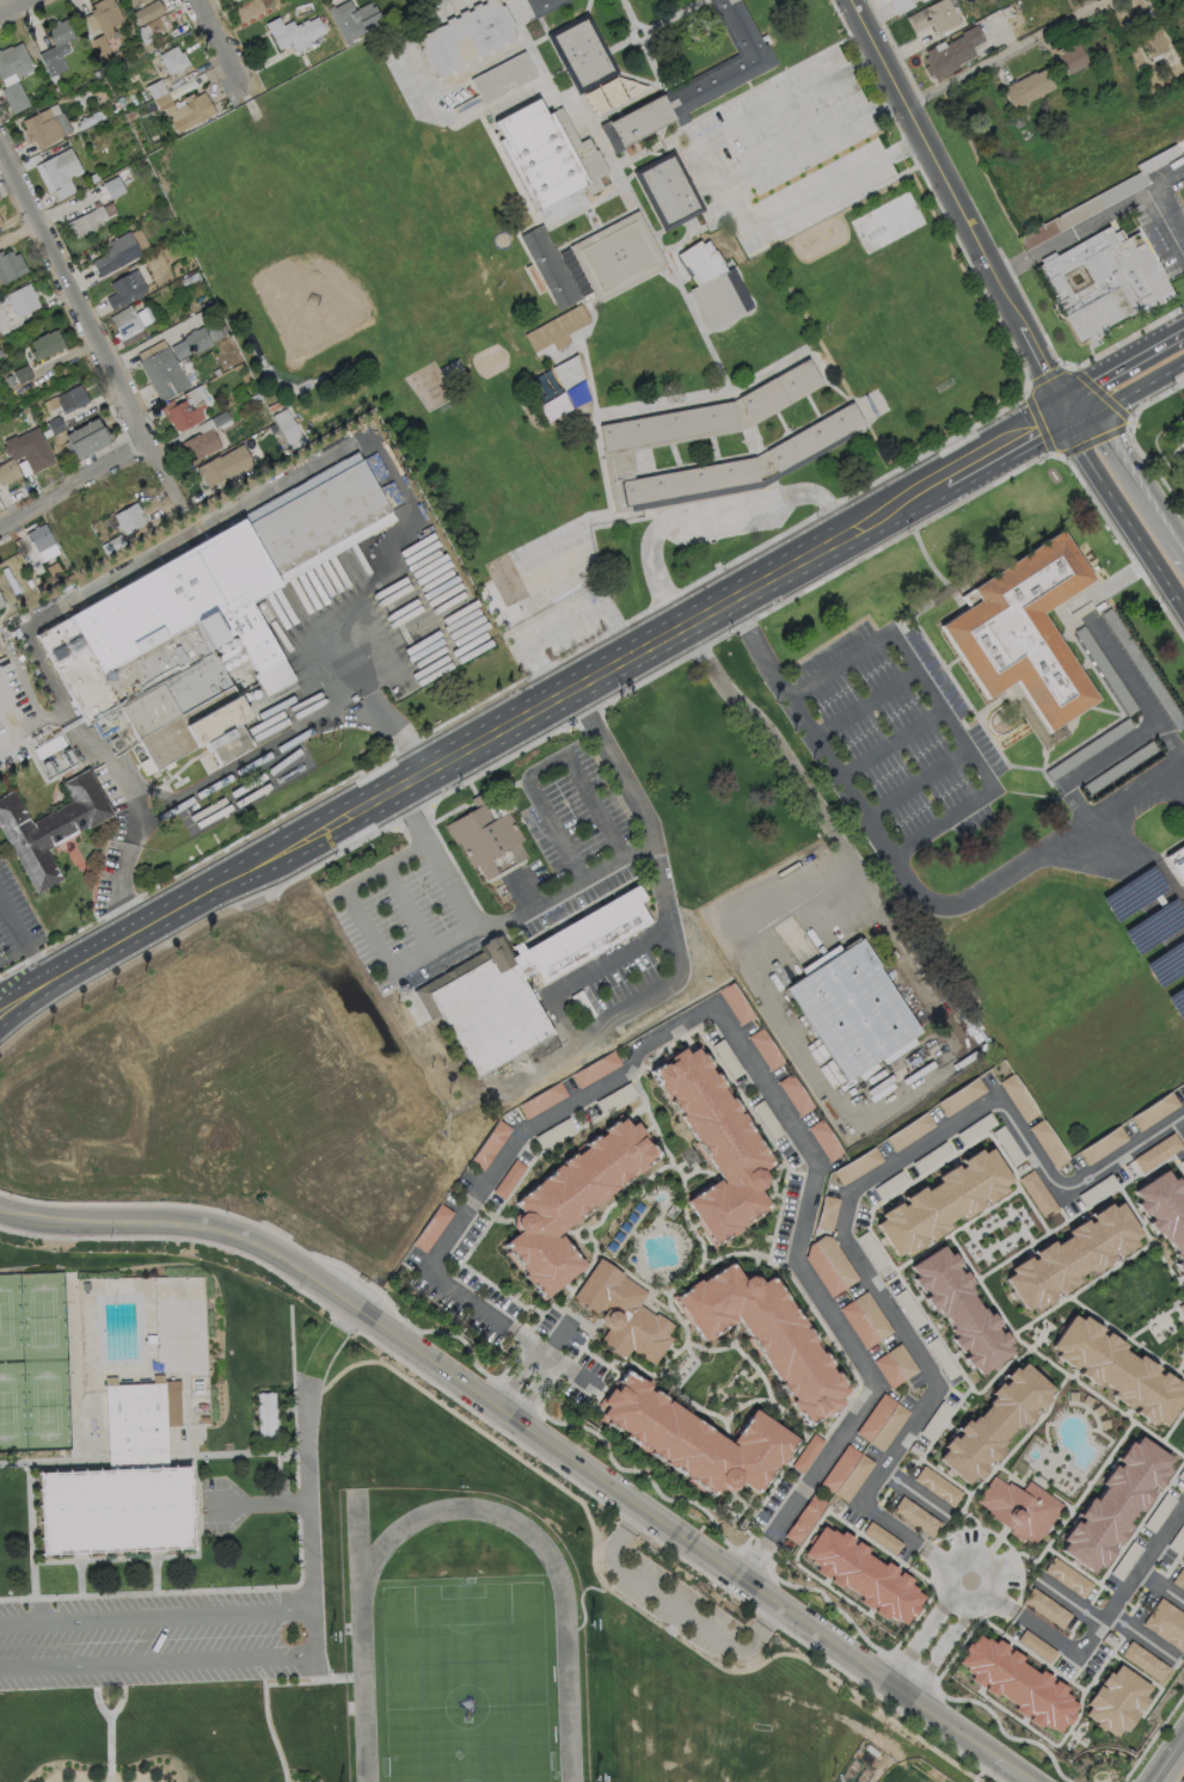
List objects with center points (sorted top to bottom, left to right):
building: (885, 0)
building: (898, 5)
building: (542, 6)
road: (14, 7)
building: (143, 10)
building: (104, 16)
building: (931, 16)
building: (351, 20)
building: (154, 26)
building: (293, 33)
building: (467, 38)
building: (1149, 42)
building: (55, 47)
road: (220, 47)
building: (581, 51)
building: (949, 51)
road: (1006, 53)
building: (1069, 56)
building: (171, 60)
building: (724, 60)
building: (12, 61)
building: (498, 79)
building: (1025, 87)
building: (12, 96)
road: (771, 109)
building: (191, 112)
building: (639, 118)
building: (42, 128)
road: (824, 135)
parking lot: (795, 147)
building: (538, 153)
building: (56, 172)
building: (112, 186)
building: (669, 190)
road: (817, 193)
building: (1096, 199)
road: (959, 204)
building: (86, 219)
building: (0, 222)
building: (114, 253)
building: (616, 256)
building: (8, 265)
building: (548, 266)
building: (1103, 283)
building: (710, 284)
building: (123, 288)
building: (19, 299)
park: (311, 312)
road: (86, 318)
building: (124, 325)
building: (556, 327)
building: (43, 344)
road: (1121, 361)
building: (568, 370)
building: (20, 374)
building: (161, 374)
building: (779, 389)
road: (1128, 393)
building: (68, 398)
building: (180, 408)
traffic signals: (1068, 411)
building: (667, 426)
building: (286, 429)
building: (1178, 434)
building: (811, 435)
building: (82, 438)
building: (197, 444)
road: (1006, 444)
building: (26, 449)
building: (221, 465)
road: (1135, 467)
building: (7, 471)
building: (671, 479)
road: (72, 485)
building: (111, 498)
road: (235, 509)
road: (707, 510)
road: (1119, 512)
building: (127, 517)
parking lot: (731, 523)
building: (37, 536)
building: (73, 540)
building: (112, 543)
building: (53, 569)
building: (10, 582)
building: (29, 583)
building: (956, 585)
road: (1112, 585)
building: (1, 603)
road: (712, 609)
building: (205, 625)
parking lot: (558, 627)
road: (565, 631)
building: (1024, 632)
parking lot: (428, 657)
building: (1142, 668)
building: (1104, 670)
parking lot: (1124, 674)
road: (863, 705)
road: (940, 708)
road: (47, 723)
building: (1037, 723)
road: (1137, 733)
road: (1170, 737)
parking lot: (894, 739)
road: (888, 744)
building: (1087, 749)
road: (456, 755)
road: (240, 763)
building: (1118, 767)
road: (546, 769)
road: (413, 779)
road: (915, 784)
road: (804, 786)
road: (372, 803)
building: (50, 827)
parking lot: (573, 836)
building: (489, 838)
parking lot: (111, 842)
building: (1177, 862)
road: (1143, 875)
road: (656, 877)
road: (907, 877)
road: (569, 886)
road: (521, 891)
road: (205, 892)
road: (409, 907)
parking lot: (400, 920)
parking lot: (17, 921)
road: (79, 929)
road: (368, 932)
road: (20, 938)
road: (31, 983)
building: (516, 984)
road: (2, 990)
road: (33, 1000)
building: (736, 1003)
building: (852, 1012)
road: (712, 1015)
road: (581, 1030)
building: (542, 1046)
building: (765, 1050)
building: (596, 1070)
building: (1183, 1081)
building: (1182, 1084)
building: (795, 1096)
building: (962, 1096)
building: (1019, 1099)
building: (542, 1100)
building: (1155, 1111)
road: (637, 1112)
road: (1182, 1119)
road: (655, 1127)
road: (648, 1129)
building: (910, 1131)
building: (823, 1141)
building: (489, 1144)
building: (717, 1144)
building: (1050, 1144)
building: (1102, 1147)
parking lot: (946, 1149)
building: (1154, 1155)
building: (927, 1159)
parking lot: (1182, 1161)
building: (858, 1167)
building: (509, 1179)
parking lot: (1102, 1186)
building: (1037, 1194)
road: (630, 1198)
building: (573, 1202)
building: (941, 1202)
road: (846, 1212)
building: (1166, 1212)
building: (828, 1213)
road: (491, 1215)
park: (664, 1216)
road: (970, 1221)
building: (431, 1228)
road: (566, 1233)
road: (695, 1235)
road: (582, 1241)
building: (1073, 1260)
road: (431, 1261)
building: (829, 1265)
road: (755, 1267)
road: (583, 1271)
road: (568, 1288)
road: (572, 1292)
road: (565, 1307)
building: (957, 1308)
building: (1182, 1308)
building: (622, 1315)
park: (43, 1316)
park: (6, 1317)
road: (685, 1320)
building: (865, 1320)
road: (1100, 1320)
road: (1155, 1322)
road: (834, 1326)
road: (558, 1333)
parking lot: (915, 1333)
park: (179, 1335)
building: (768, 1338)
road: (671, 1350)
road: (711, 1351)
road: (674, 1354)
road: (544, 1357)
road: (953, 1360)
road: (605, 1364)
building: (895, 1365)
building: (1119, 1365)
road: (1180, 1365)
road: (688, 1366)
park: (714, 1379)
road: (765, 1382)
road: (746, 1402)
park: (47, 1405)
park: (7, 1406)
road: (779, 1418)
road: (838, 1419)
building: (266, 1420)
building: (992, 1420)
building: (881, 1422)
road: (570, 1424)
road: (1173, 1425)
road: (535, 1436)
building: (700, 1439)
road: (1159, 1439)
road: (926, 1450)
building: (808, 1454)
road: (238, 1455)
road: (137, 1458)
road: (53, 1462)
road: (1104, 1463)
building: (846, 1474)
building: (123, 1485)
building: (938, 1486)
road: (915, 1493)
road: (738, 1500)
building: (1115, 1501)
road: (787, 1508)
building: (1016, 1511)
building: (916, 1516)
building: (804, 1518)
road: (194, 1528)
parking lot: (1146, 1530)
road: (31, 1536)
road: (308, 1536)
building: (883, 1537)
track: (357, 1546)
parking lot: (1172, 1549)
road: (591, 1550)
parking lot: (986, 1557)
road: (116, 1560)
road: (980, 1562)
road: (1179, 1563)
road: (805, 1566)
road: (1171, 1567)
road: (914, 1571)
building: (869, 1572)
road: (962, 1574)
building: (1068, 1577)
building: (1179, 1579)
road: (975, 1584)
road: (1161, 1586)
road: (155, 1589)
road: (80, 1592)
road: (33, 1593)
road: (1067, 1599)
road: (581, 1602)
road: (675, 1603)
parking lot: (675, 1604)
building: (1047, 1608)
building: (1167, 1623)
road: (1096, 1624)
road: (920, 1626)
road: (286, 1636)
road: (1140, 1636)
parking lot: (165, 1641)
road: (946, 1643)
building: (1036, 1646)
track: (464, 1655)
parking lot: (1088, 1657)
park: (464, 1659)
building: (1146, 1660)
road: (1102, 1664)
road: (1062, 1677)
road: (1149, 1679)
building: (1019, 1684)
road: (122, 1691)
road: (94, 1692)
building: (1116, 1701)
road: (266, 1721)
road: (109, 1750)
road: (1168, 1759)
park: (904, 1776)
fountain: (1102, 1781)

